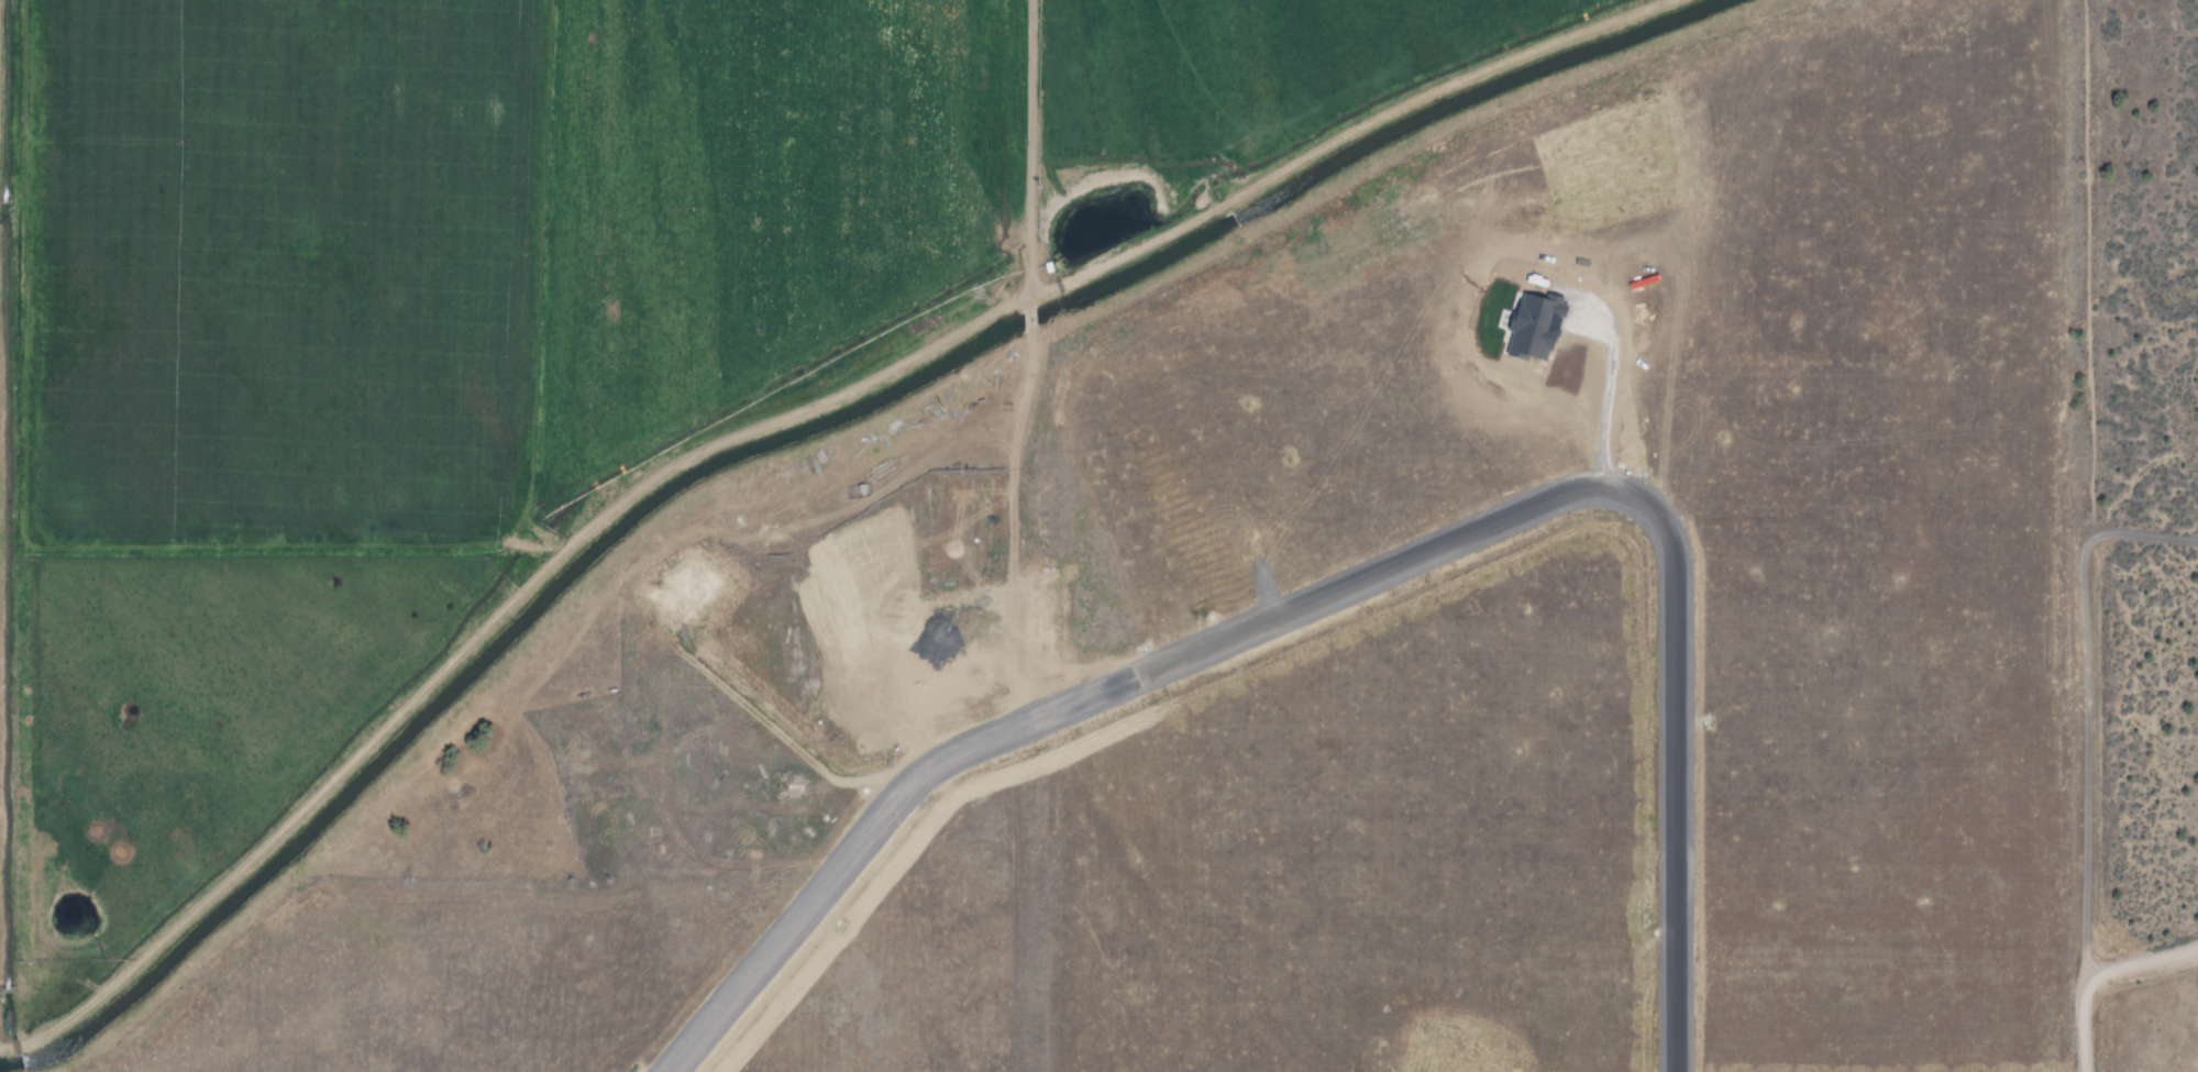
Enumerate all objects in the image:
building: (1538, 325)
road: (765, 420)
road: (2081, 590)
road: (2139, 959)

